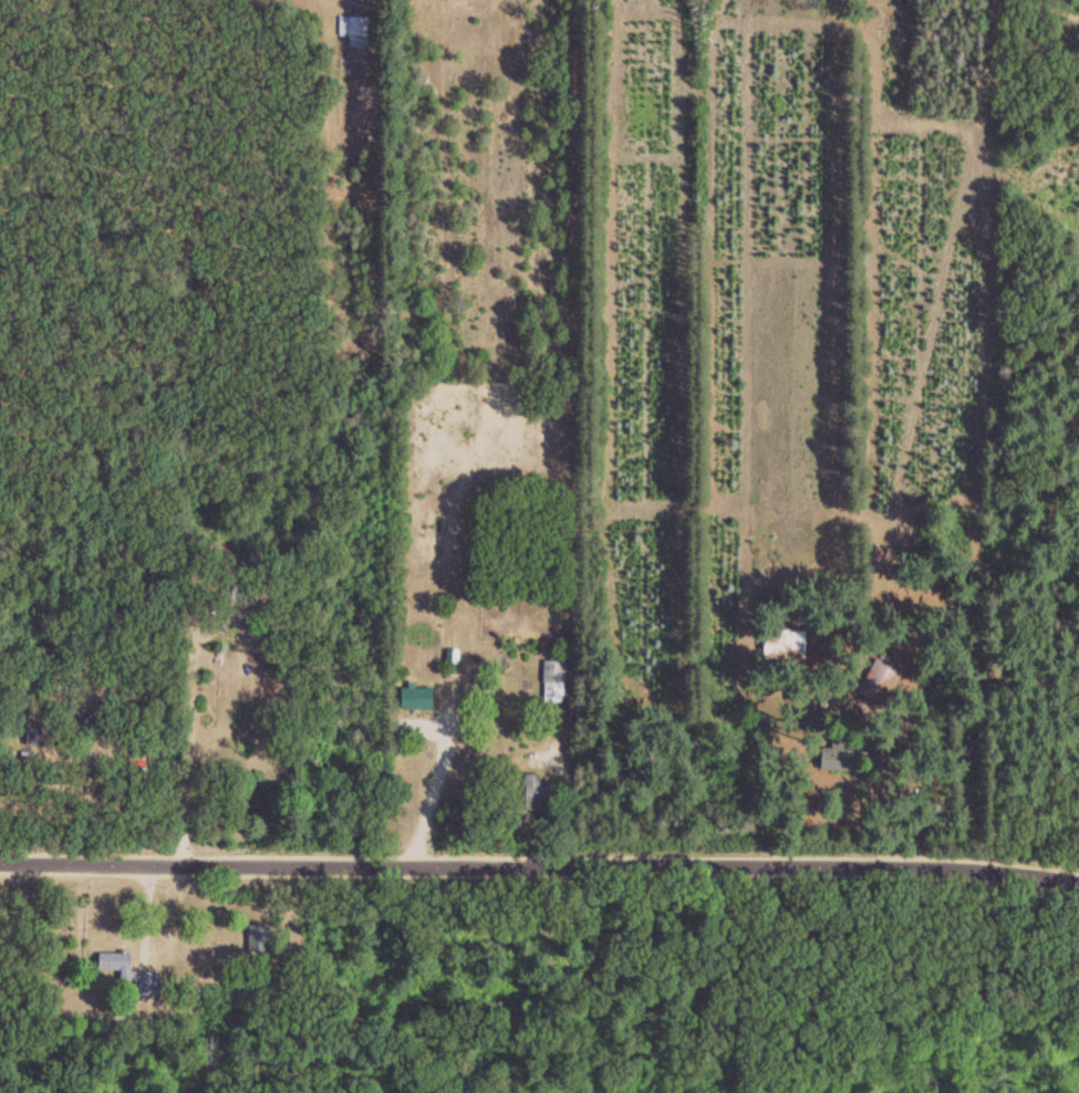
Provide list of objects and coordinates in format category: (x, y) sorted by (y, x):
road: (353, 6)
building: (356, 30)
building: (238, 593)
building: (786, 643)
building: (554, 680)
building: (881, 680)
building: (417, 698)
road: (189, 717)
building: (92, 727)
building: (48, 735)
building: (840, 758)
road: (436, 792)
building: (538, 793)
road: (540, 853)
building: (260, 938)
building: (131, 972)

